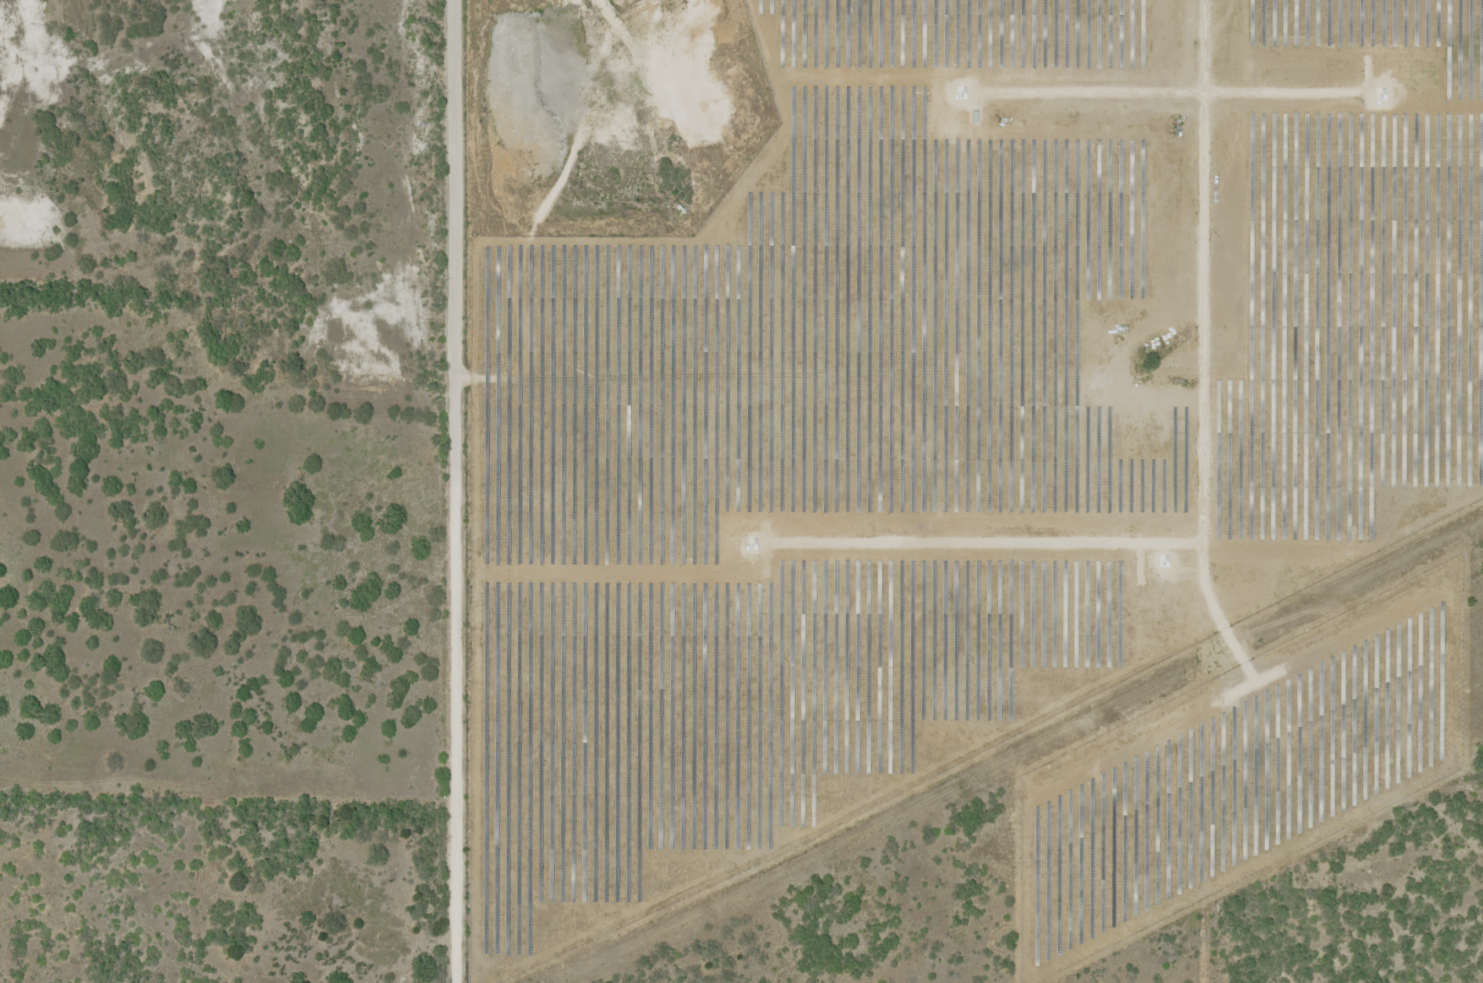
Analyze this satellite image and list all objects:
road: (447, 491)

